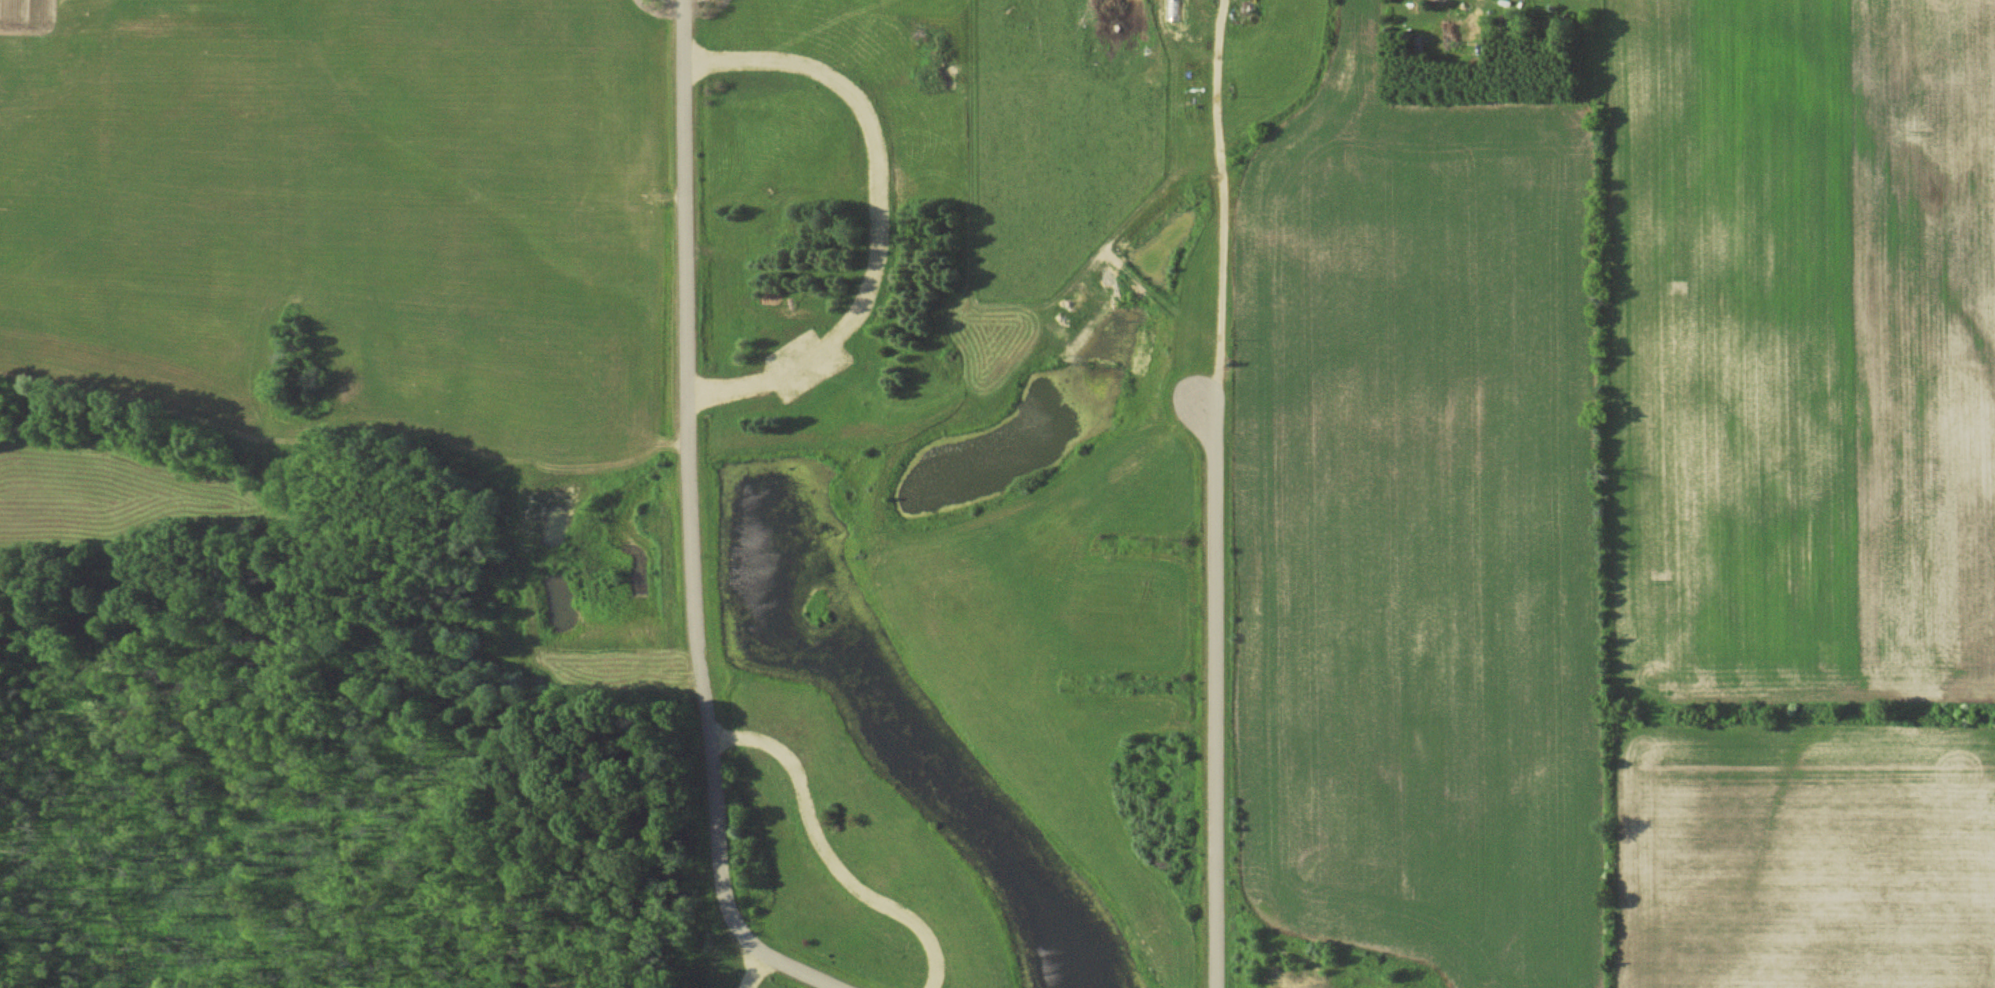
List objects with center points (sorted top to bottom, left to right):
road: (1225, 206)
road: (691, 522)
road: (1216, 695)

